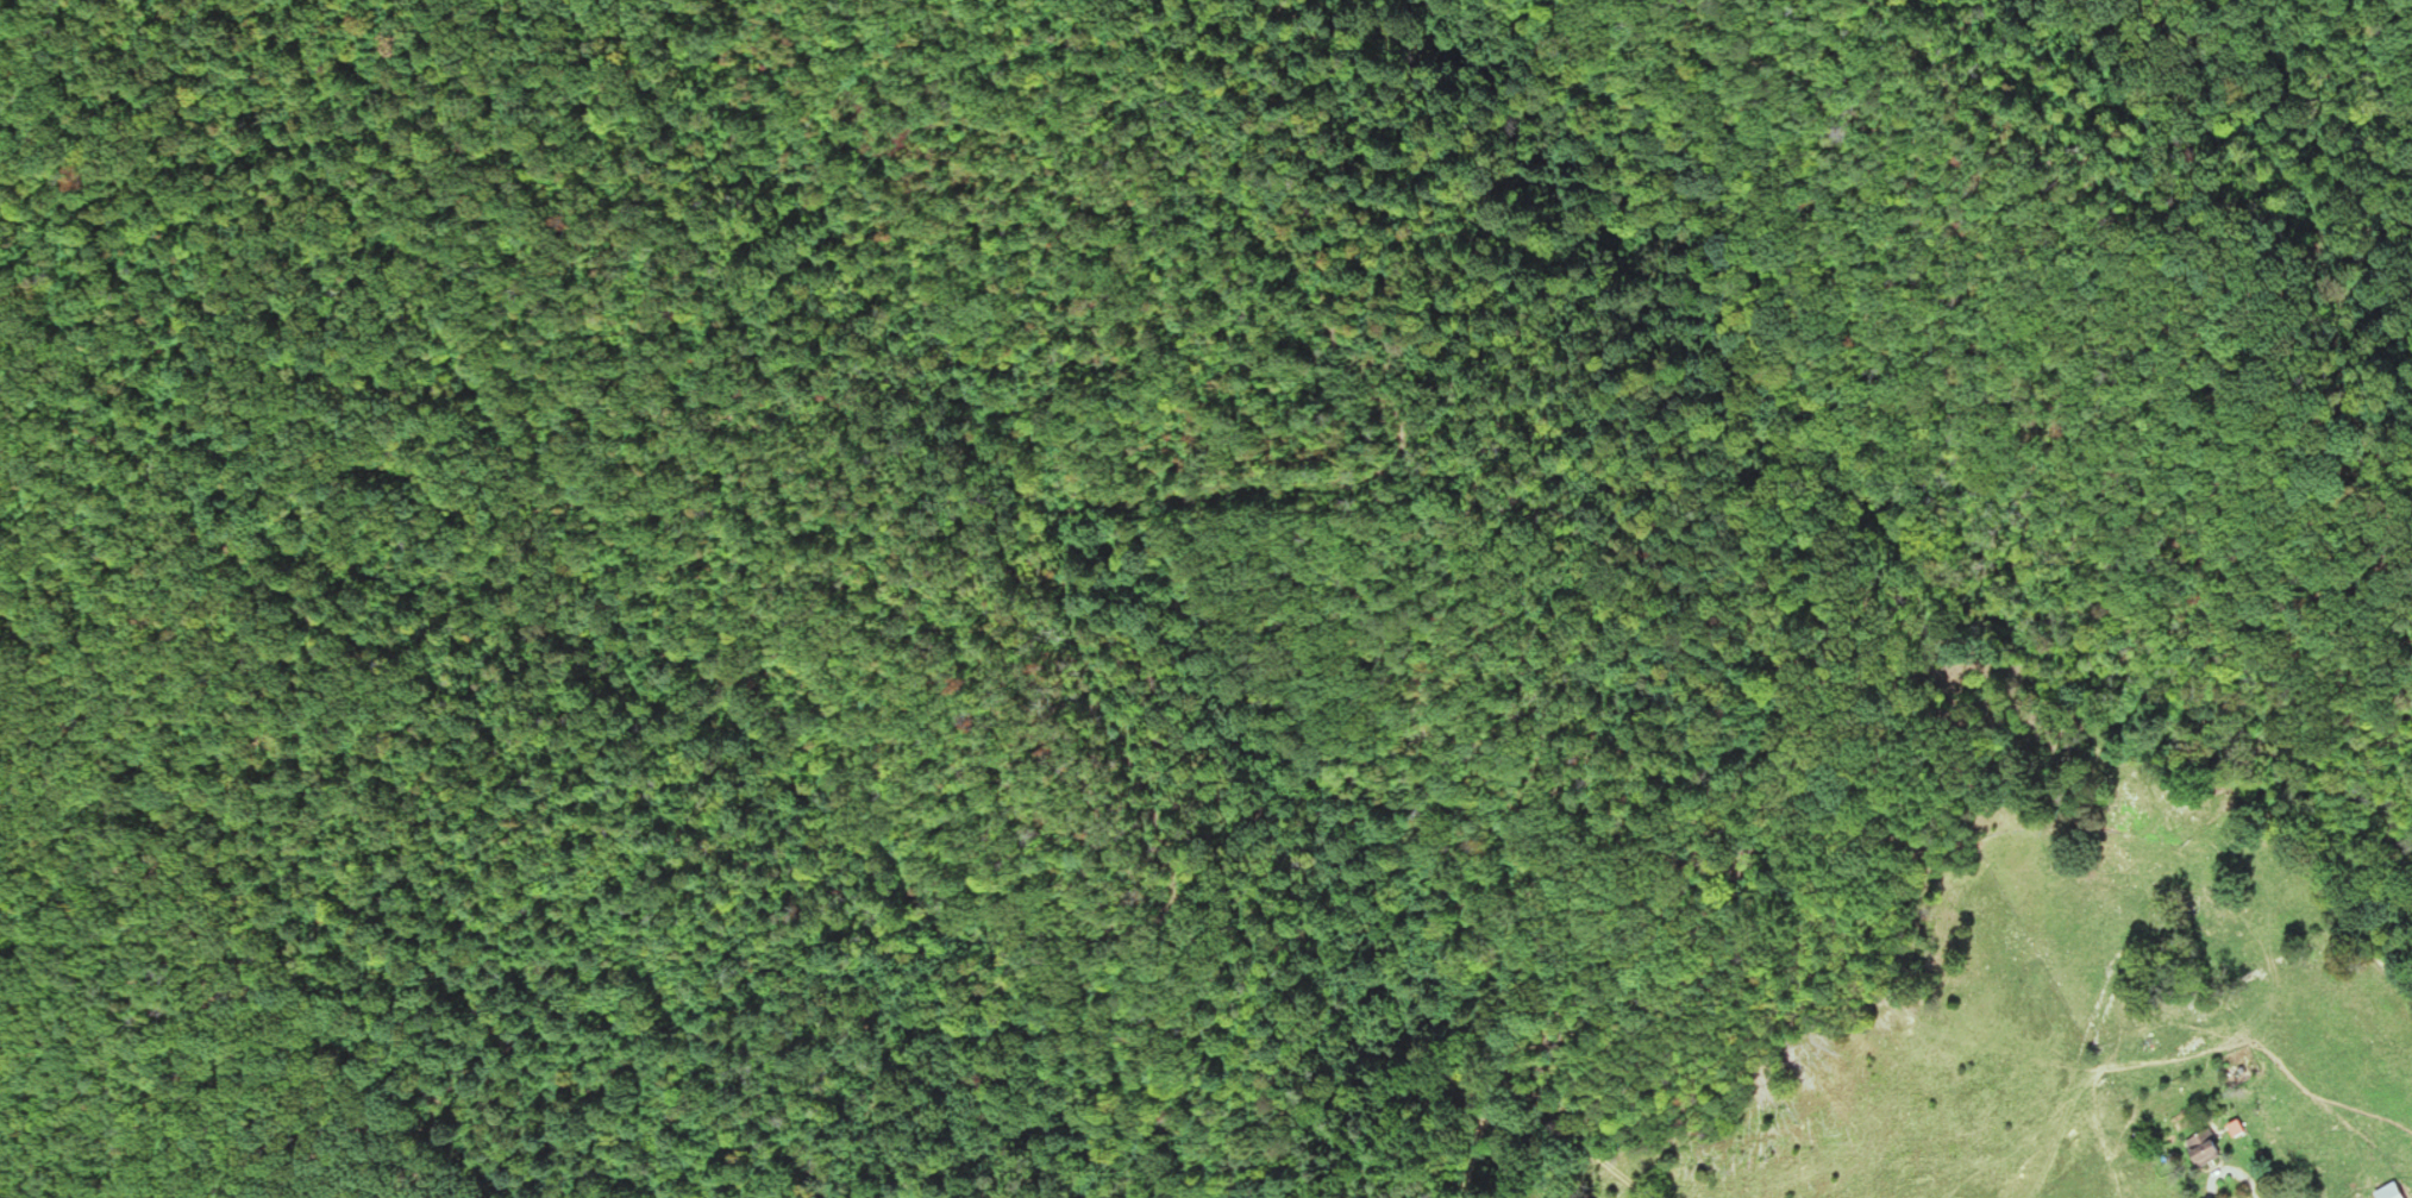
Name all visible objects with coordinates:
road: (1071, 514)
building: (2201, 1149)
road: (2225, 1168)
building: (2386, 1192)

